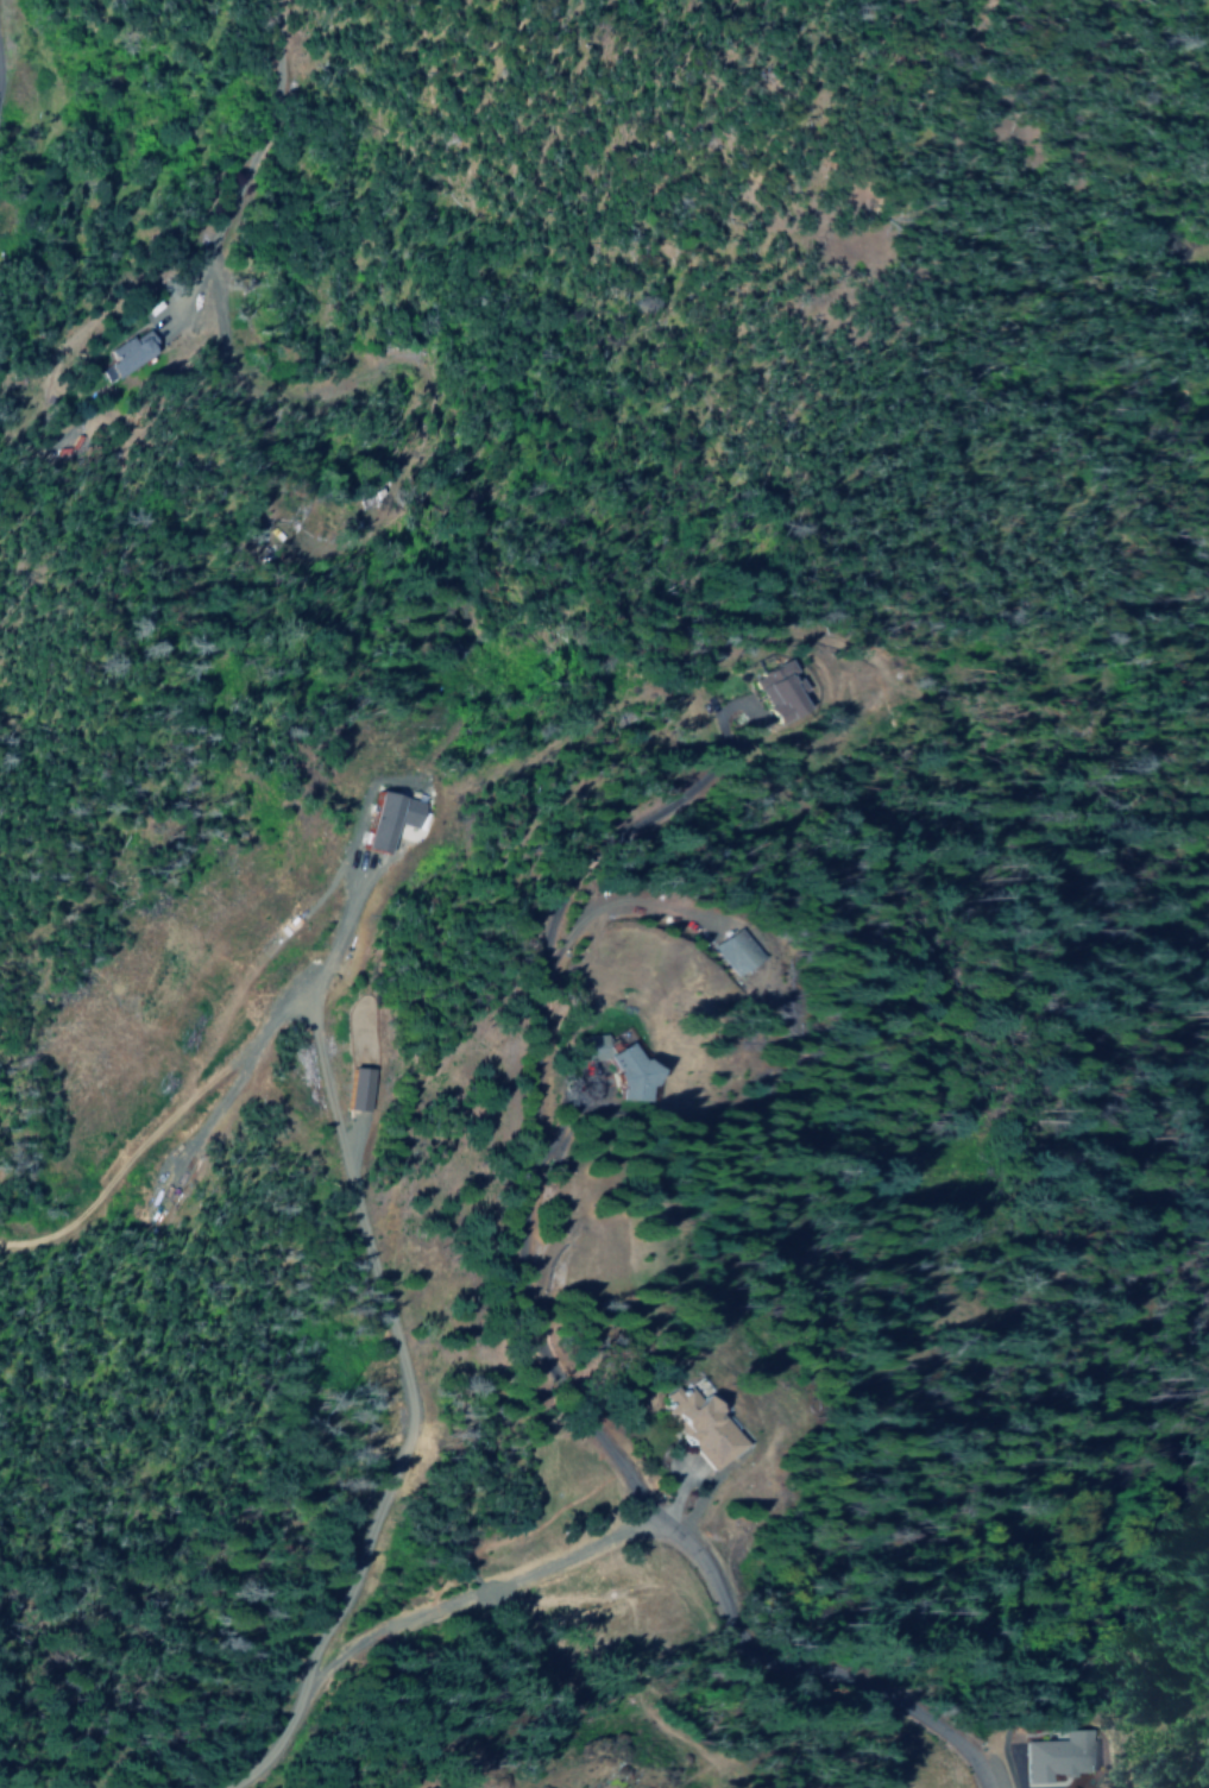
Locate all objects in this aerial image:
road: (237, 163)
building: (124, 357)
building: (777, 691)
building: (391, 819)
building: (735, 952)
road: (558, 961)
building: (592, 1047)
building: (630, 1071)
road: (536, 1108)
road: (163, 1132)
road: (347, 1132)
road: (550, 1148)
building: (700, 1424)
road: (428, 1614)
road: (816, 1671)
building: (1060, 1756)

